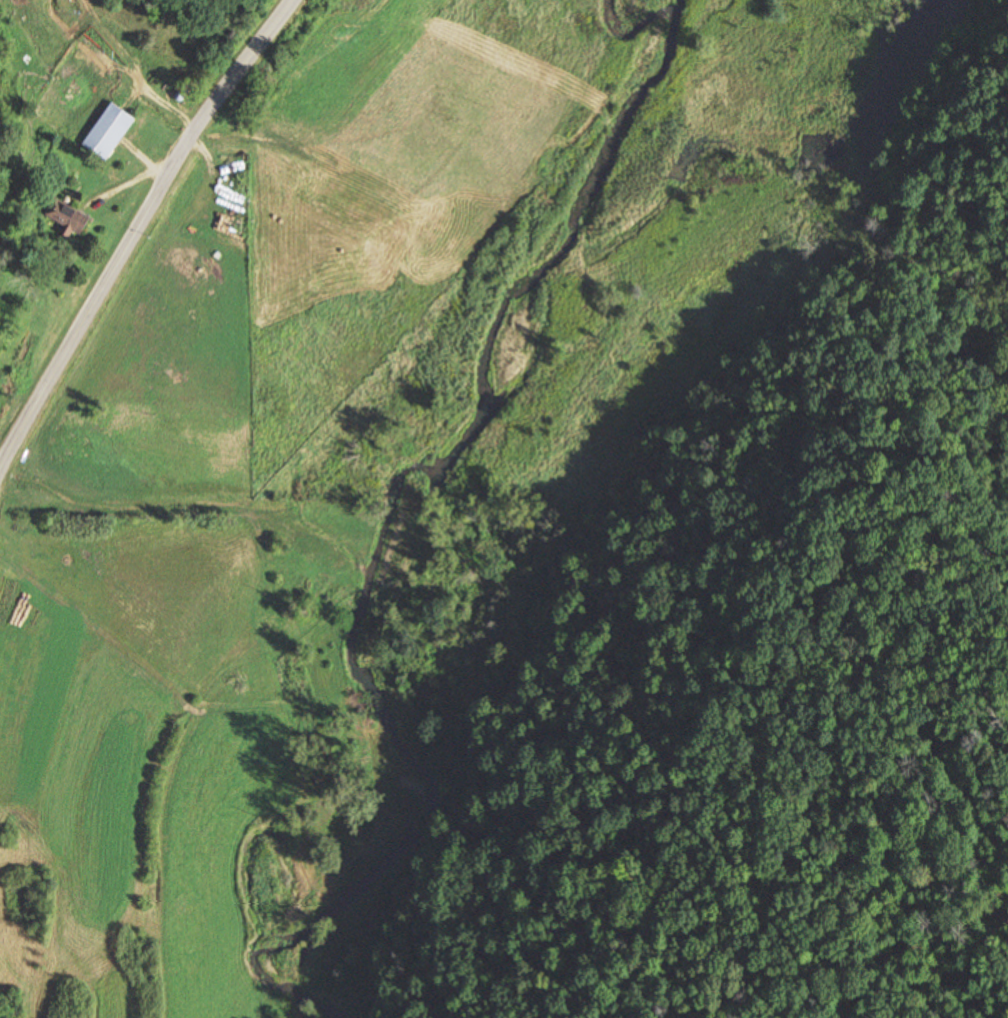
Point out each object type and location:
road: (136, 70)
building: (110, 134)
road: (142, 156)
road: (125, 184)
building: (72, 218)
road: (134, 228)
building: (385, 745)

